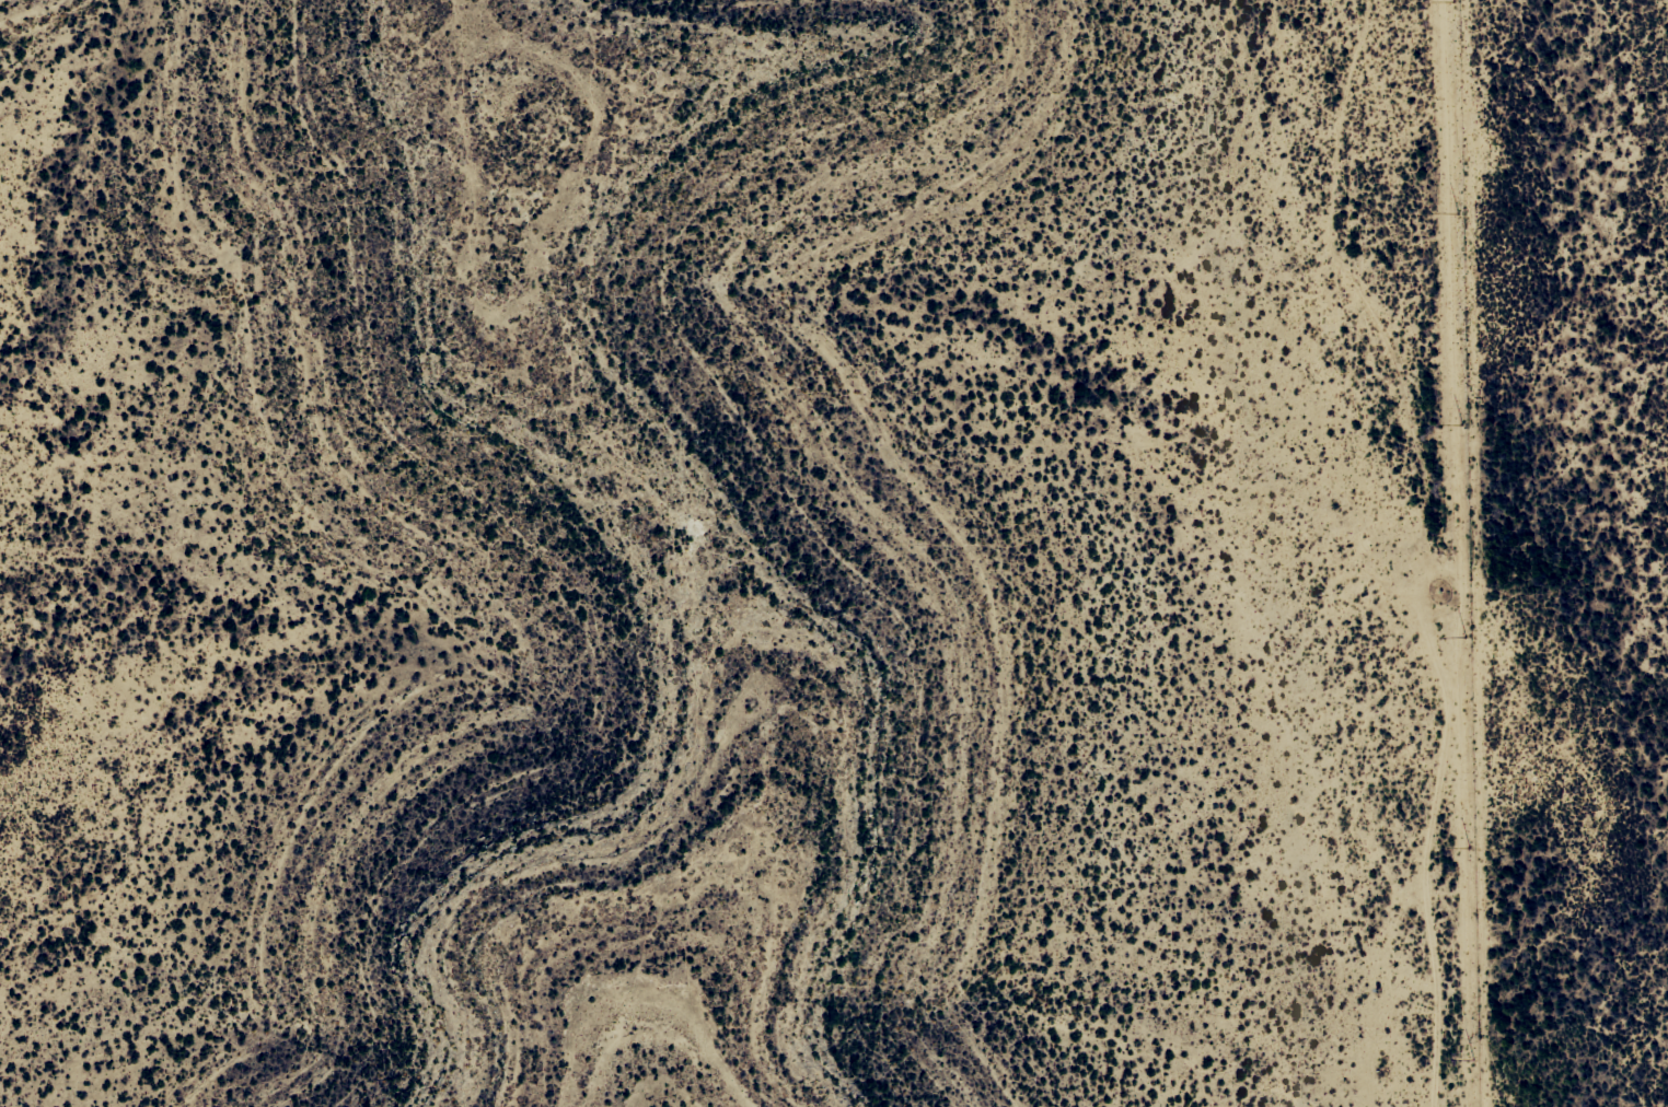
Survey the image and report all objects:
power tower: (1451, 0)
power tower: (1457, 212)
power tower: (1461, 423)
power tower: (1468, 634)
power tower: (1469, 846)
power tower: (1470, 1057)

